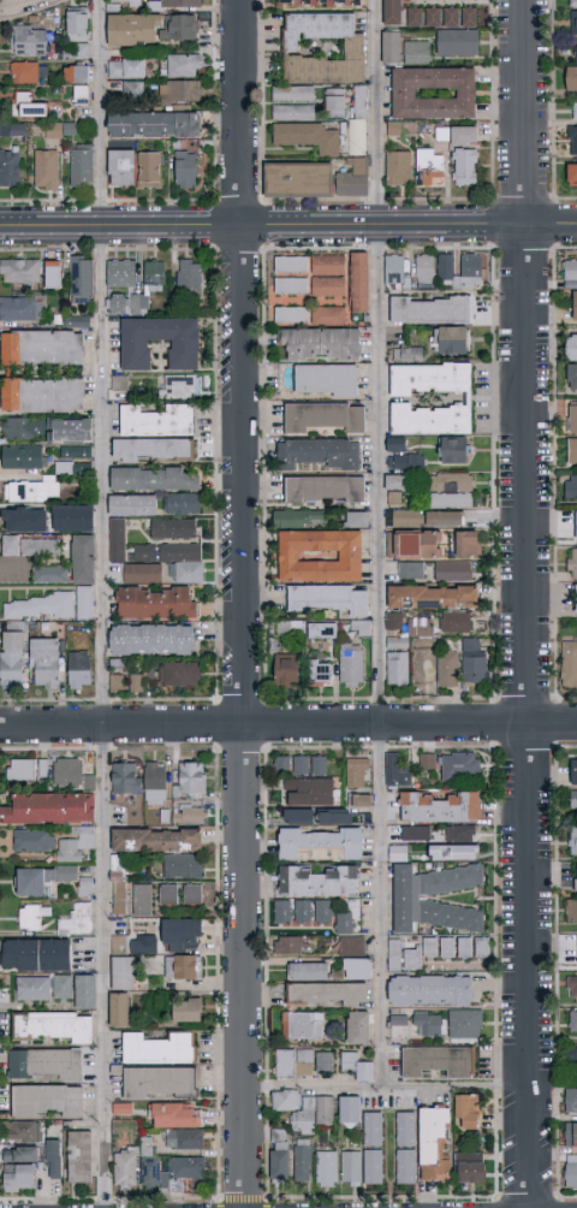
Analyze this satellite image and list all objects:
building: (125, 2)
building: (180, 4)
building: (319, 4)
building: (571, 4)
road: (20, 6)
building: (392, 12)
building: (414, 17)
building: (433, 17)
building: (460, 17)
building: (573, 22)
building: (180, 28)
building: (132, 29)
building: (77, 34)
building: (29, 40)
building: (457, 42)
building: (391, 47)
building: (322, 48)
building: (416, 51)
building: (576, 54)
building: (183, 65)
building: (126, 67)
building: (28, 72)
building: (76, 73)
building: (571, 79)
building: (127, 90)
building: (184, 90)
building: (293, 93)
building: (433, 93)
building: (81, 94)
building: (335, 101)
building: (32, 105)
building: (575, 111)
building: (293, 112)
building: (358, 123)
building: (154, 125)
building: (389, 126)
building: (22, 128)
building: (61, 130)
building: (457, 135)
building: (308, 136)
building: (572, 140)
building: (82, 166)
building: (465, 166)
building: (121, 167)
building: (399, 167)
building: (429, 167)
building: (10, 168)
building: (46, 170)
building: (150, 170)
building: (185, 170)
building: (571, 176)
building: (352, 177)
building: (298, 179)
road: (288, 230)
building: (291, 263)
building: (470, 265)
building: (394, 270)
building: (20, 271)
building: (424, 271)
building: (53, 273)
building: (121, 273)
building: (280, 273)
building: (571, 273)
building: (154, 276)
building: (190, 276)
building: (327, 276)
building: (82, 279)
building: (359, 282)
building: (291, 285)
building: (139, 301)
building: (117, 302)
building: (575, 307)
building: (20, 309)
building: (430, 309)
building: (291, 314)
building: (328, 314)
building: (81, 320)
building: (450, 341)
building: (321, 344)
building: (571, 347)
building: (44, 348)
building: (408, 354)
building: (184, 355)
building: (572, 377)
building: (429, 378)
building: (325, 380)
building: (120, 383)
building: (176, 386)
building: (42, 395)
building: (325, 416)
building: (573, 416)
building: (157, 420)
building: (429, 420)
building: (48, 428)
building: (153, 450)
building: (572, 450)
building: (453, 451)
building: (319, 452)
building: (403, 456)
building: (23, 457)
building: (73, 460)
building: (153, 479)
building: (397, 486)
building: (571, 488)
building: (30, 490)
building: (326, 490)
building: (451, 490)
building: (182, 503)
building: (132, 504)
building: (72, 517)
building: (298, 517)
building: (404, 517)
building: (357, 519)
building: (445, 519)
building: (25, 520)
building: (576, 525)
building: (174, 529)
building: (117, 539)
building: (415, 544)
building: (468, 544)
building: (11, 545)
building: (40, 546)
building: (319, 556)
building: (83, 558)
building: (174, 559)
road: (12, 561)
building: (572, 562)
building: (411, 570)
building: (452, 570)
building: (142, 573)
building: (49, 574)
building: (433, 597)
building: (328, 598)
road: (106, 603)
building: (155, 603)
road: (244, 603)
road: (525, 603)
building: (571, 603)
building: (50, 605)
road: (379, 611)
building: (393, 621)
building: (456, 622)
building: (481, 622)
building: (418, 627)
building: (359, 628)
building: (322, 630)
building: (151, 639)
building: (398, 643)
building: (12, 659)
building: (474, 661)
building: (569, 662)
building: (44, 663)
building: (424, 664)
building: (351, 665)
building: (79, 668)
building: (397, 668)
building: (448, 669)
building: (286, 671)
building: (320, 673)
building: (182, 674)
building: (120, 681)
building: (136, 683)
road: (287, 726)
building: (427, 762)
building: (291, 765)
building: (319, 765)
building: (460, 766)
building: (26, 770)
building: (397, 771)
building: (572, 771)
building: (71, 774)
building: (358, 774)
building: (124, 778)
building: (189, 778)
building: (155, 783)
building: (309, 792)
building: (361, 800)
building: (572, 800)
building: (49, 807)
building: (439, 807)
building: (309, 813)
building: (189, 815)
building: (416, 833)
building: (460, 834)
building: (32, 840)
building: (156, 840)
building: (572, 842)
building: (320, 843)
building: (76, 845)
building: (448, 849)
building: (182, 866)
building: (48, 880)
building: (576, 880)
building: (319, 881)
building: (167, 894)
building: (192, 894)
building: (436, 898)
building: (142, 899)
building: (303, 911)
building: (572, 913)
building: (31, 916)
building: (76, 919)
building: (344, 923)
building: (182, 935)
building: (121, 942)
building: (147, 943)
building: (288, 945)
building: (352, 946)
building: (447, 947)
building: (464, 947)
building: (482, 947)
building: (576, 948)
building: (391, 953)
building: (420, 953)
building: (36, 954)
building: (183, 967)
building: (358, 969)
building: (308, 971)
building: (123, 972)
building: (61, 987)
building: (34, 988)
building: (571, 989)
building: (430, 990)
building: (85, 991)
building: (327, 994)
building: (119, 1009)
building: (188, 1009)
building: (465, 1023)
building: (427, 1024)
building: (305, 1025)
building: (572, 1025)
building: (53, 1026)
building: (357, 1026)
building: (157, 1048)
building: (569, 1058)
building: (323, 1061)
building: (439, 1061)
building: (295, 1062)
building: (46, 1065)
building: (357, 1066)
building: (157, 1082)
road: (552, 1085)
road: (454, 1088)
building: (47, 1100)
building: (570, 1101)
building: (121, 1108)
building: (304, 1109)
building: (349, 1109)
building: (468, 1111)
building: (176, 1115)
building: (373, 1130)
building: (406, 1130)
building: (22, 1132)
building: (570, 1136)
building: (184, 1139)
building: (434, 1144)
building: (279, 1155)
building: (79, 1156)
building: (54, 1159)
building: (303, 1160)
building: (149, 1165)
building: (406, 1165)
building: (374, 1166)
building: (351, 1167)
building: (20, 1168)
building: (126, 1168)
building: (327, 1168)
building: (470, 1168)
building: (185, 1171)
building: (570, 1172)

